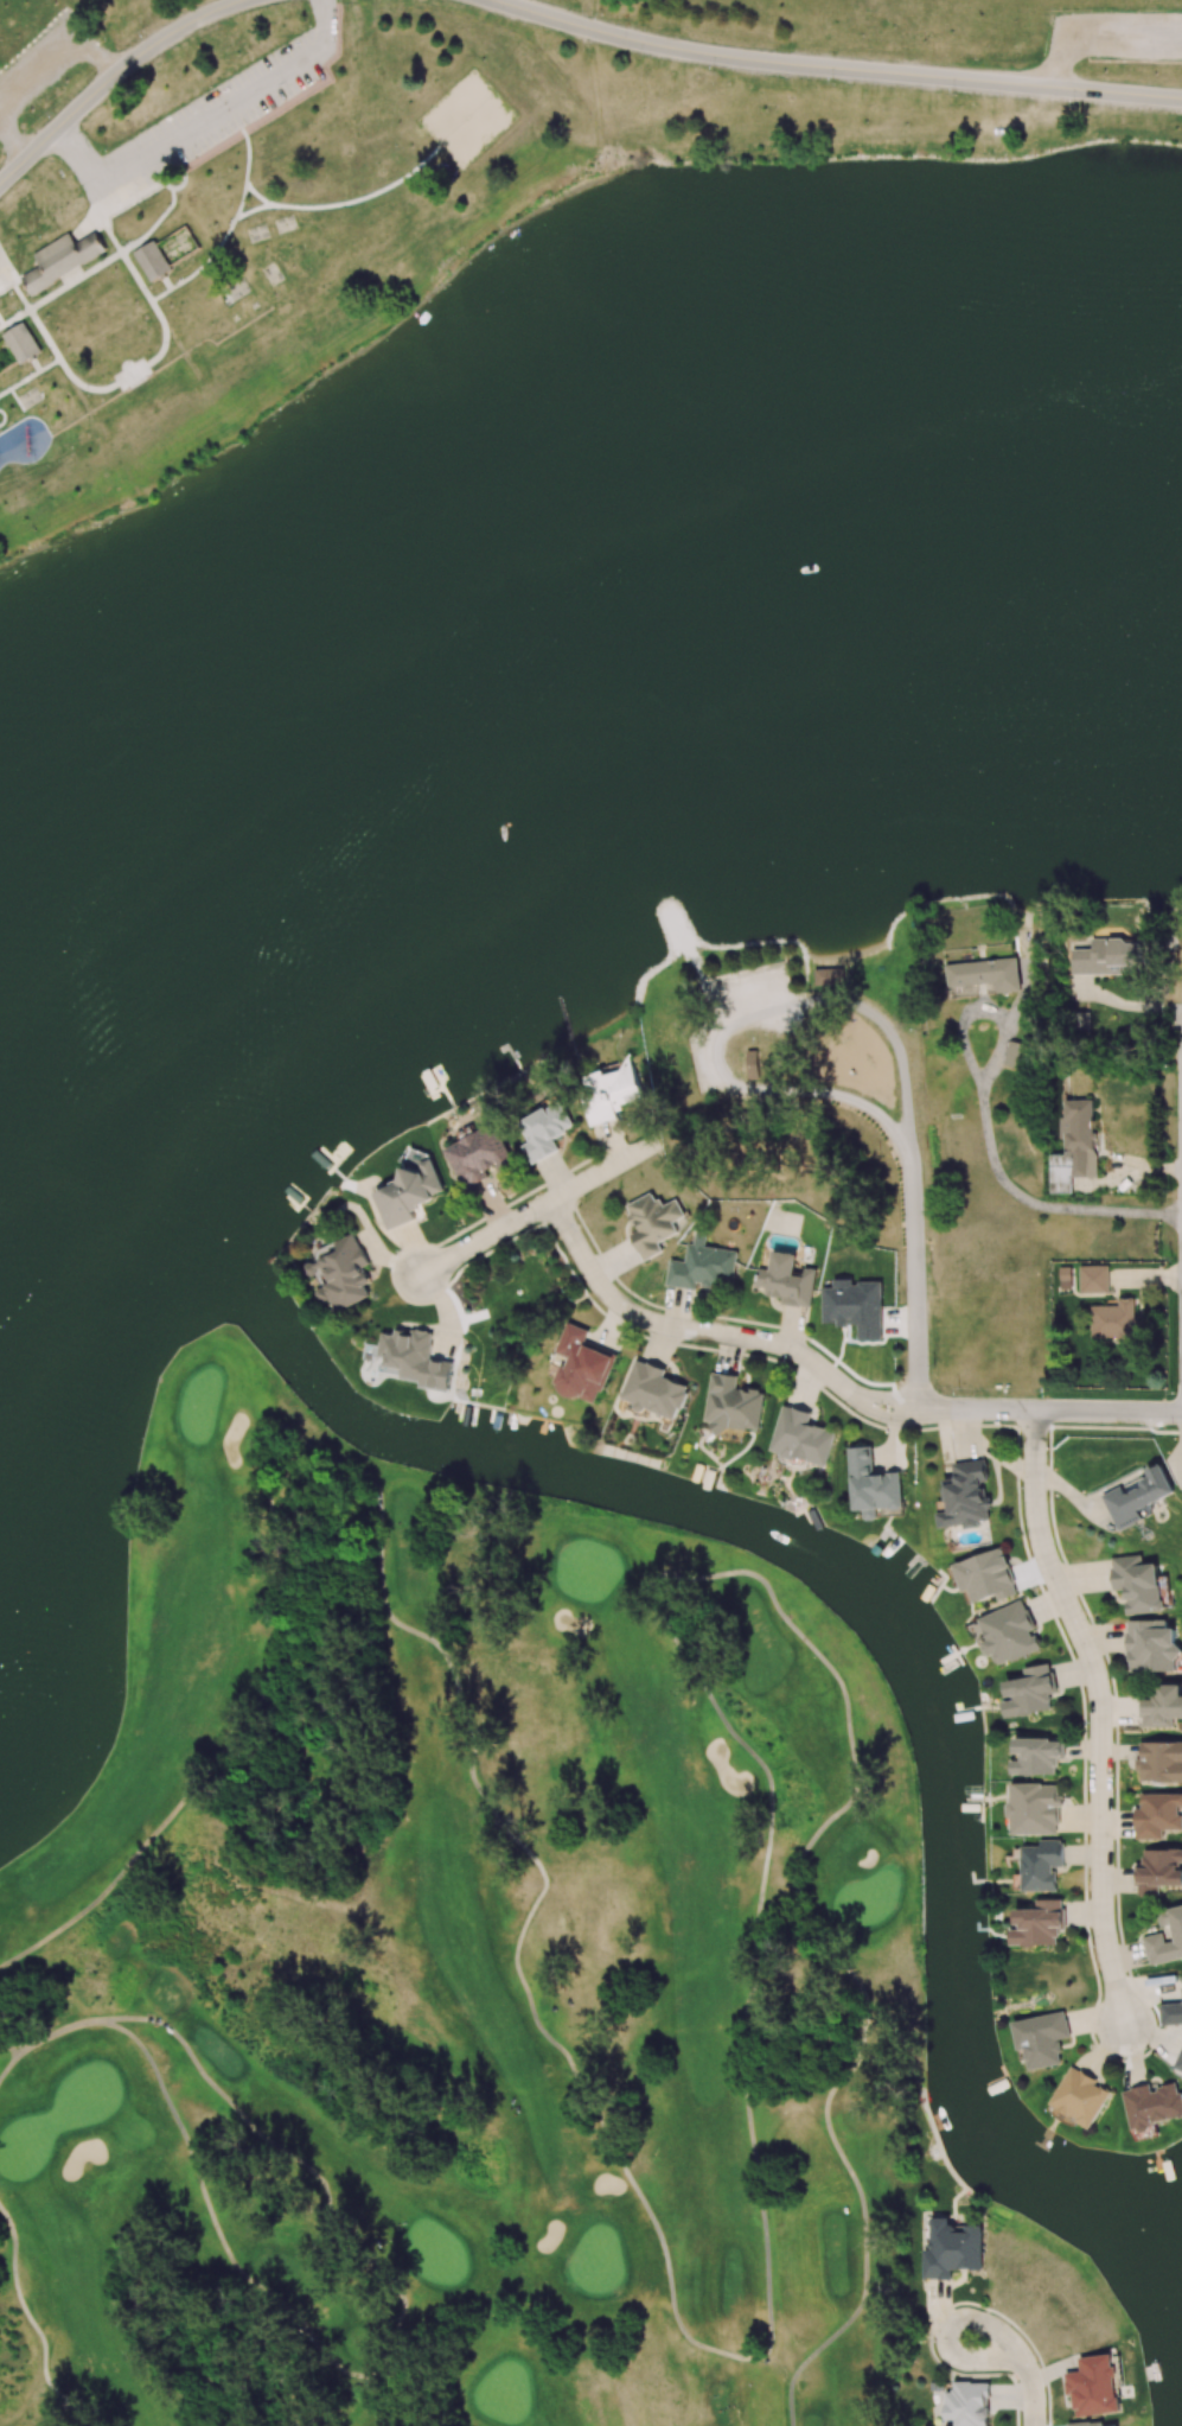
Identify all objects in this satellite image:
parking lot: (1114, 33)
parking lot: (41, 63)
road: (832, 69)
road: (113, 77)
parking lot: (216, 113)
park: (461, 114)
building: (60, 259)
building: (152, 261)
parking lot: (6, 273)
building: (20, 343)
park: (513, 396)
building: (1108, 956)
building: (985, 974)
building: (828, 976)
building: (1015, 1053)
building: (545, 1131)
building: (1074, 1146)
building: (479, 1154)
building: (409, 1190)
road: (1016, 1193)
road: (538, 1208)
road: (911, 1210)
building: (652, 1223)
building: (702, 1266)
building: (343, 1273)
building: (1066, 1278)
building: (1094, 1279)
building: (791, 1280)
building: (855, 1307)
building: (1113, 1320)
road: (710, 1331)
building: (415, 1357)
building: (582, 1365)
building: (654, 1390)
building: (733, 1405)
road: (1047, 1411)
building: (801, 1437)
building: (873, 1484)
building: (965, 1496)
building: (984, 1577)
building: (1137, 1584)
building: (1009, 1634)
building: (1151, 1647)
building: (1030, 1692)
building: (1163, 1706)
road: (1101, 1713)
building: (1037, 1756)
building: (1161, 1760)
building: (1034, 1808)
building: (1158, 1815)
building: (1041, 1865)
building: (1159, 1870)
building: (1039, 1923)
building: (1165, 1937)
park: (447, 1957)
building: (1041, 2038)
road: (9, 2046)
road: (292, 2158)
road: (191, 2163)
road: (767, 2314)
road: (30, 2319)
road: (1024, 2363)
road: (388, 2394)
road: (422, 2396)

